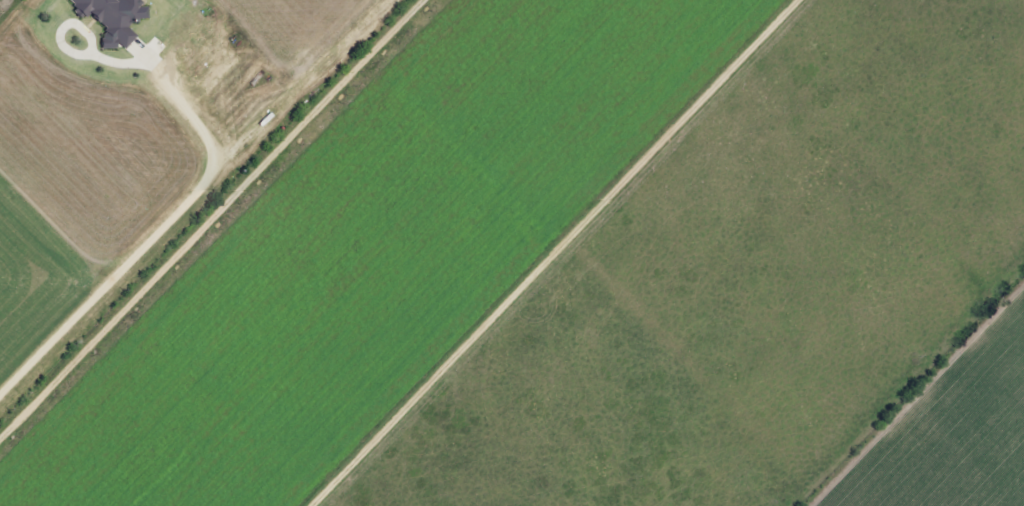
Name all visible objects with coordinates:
building: (112, 18)
road: (181, 211)
road: (217, 224)
road: (567, 253)

